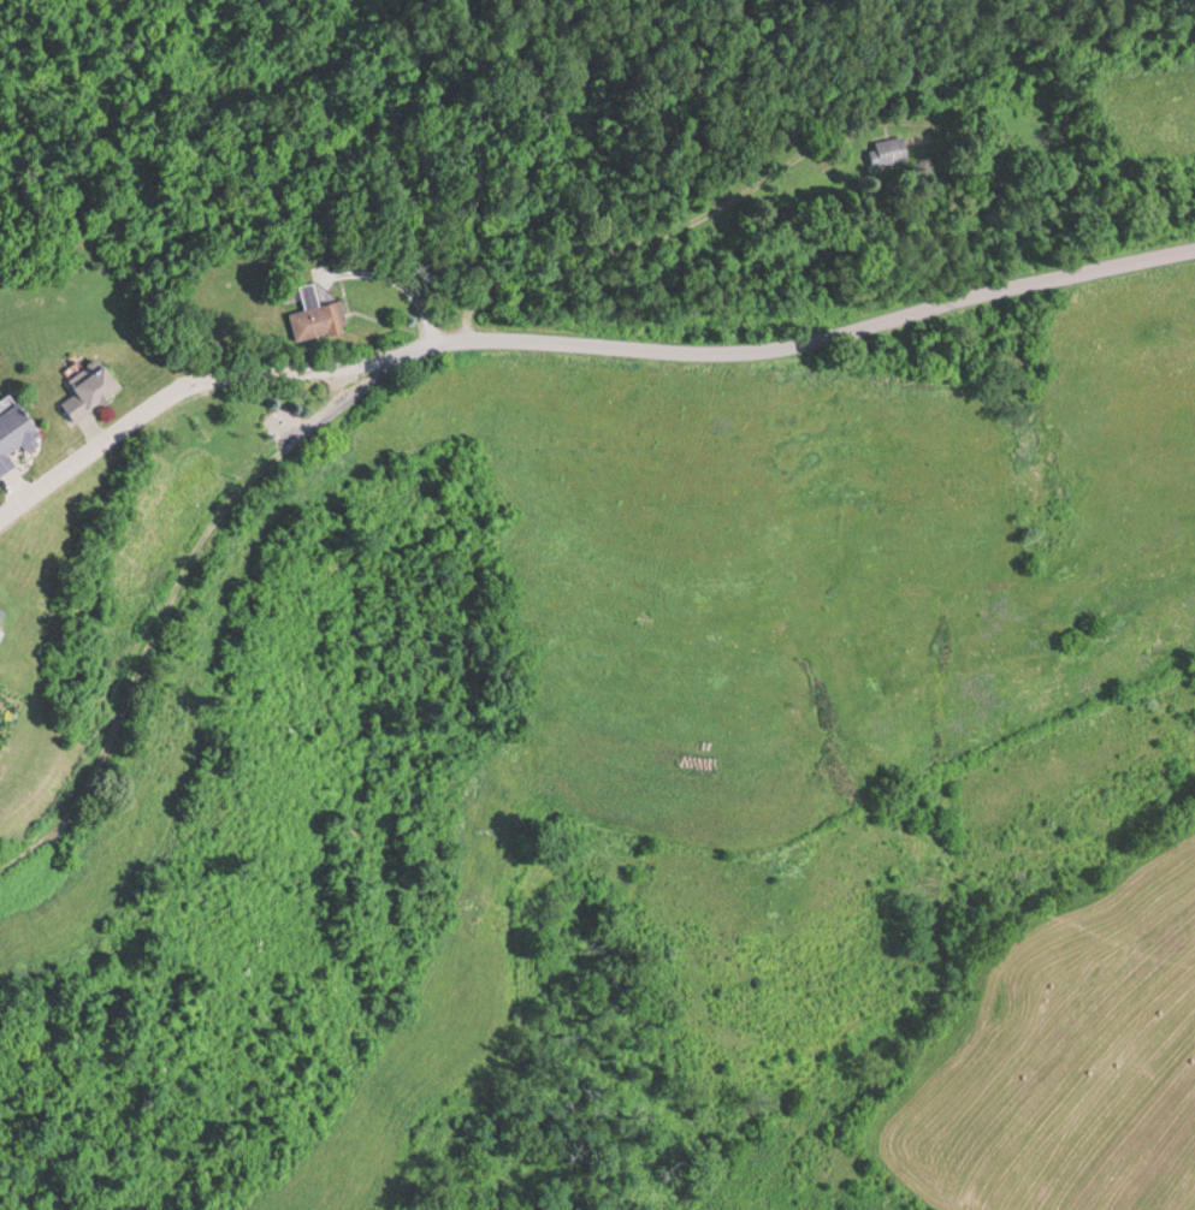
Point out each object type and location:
building: (900, 149)
building: (320, 314)
road: (807, 342)
road: (187, 384)
building: (96, 392)
building: (18, 434)
road: (174, 591)

